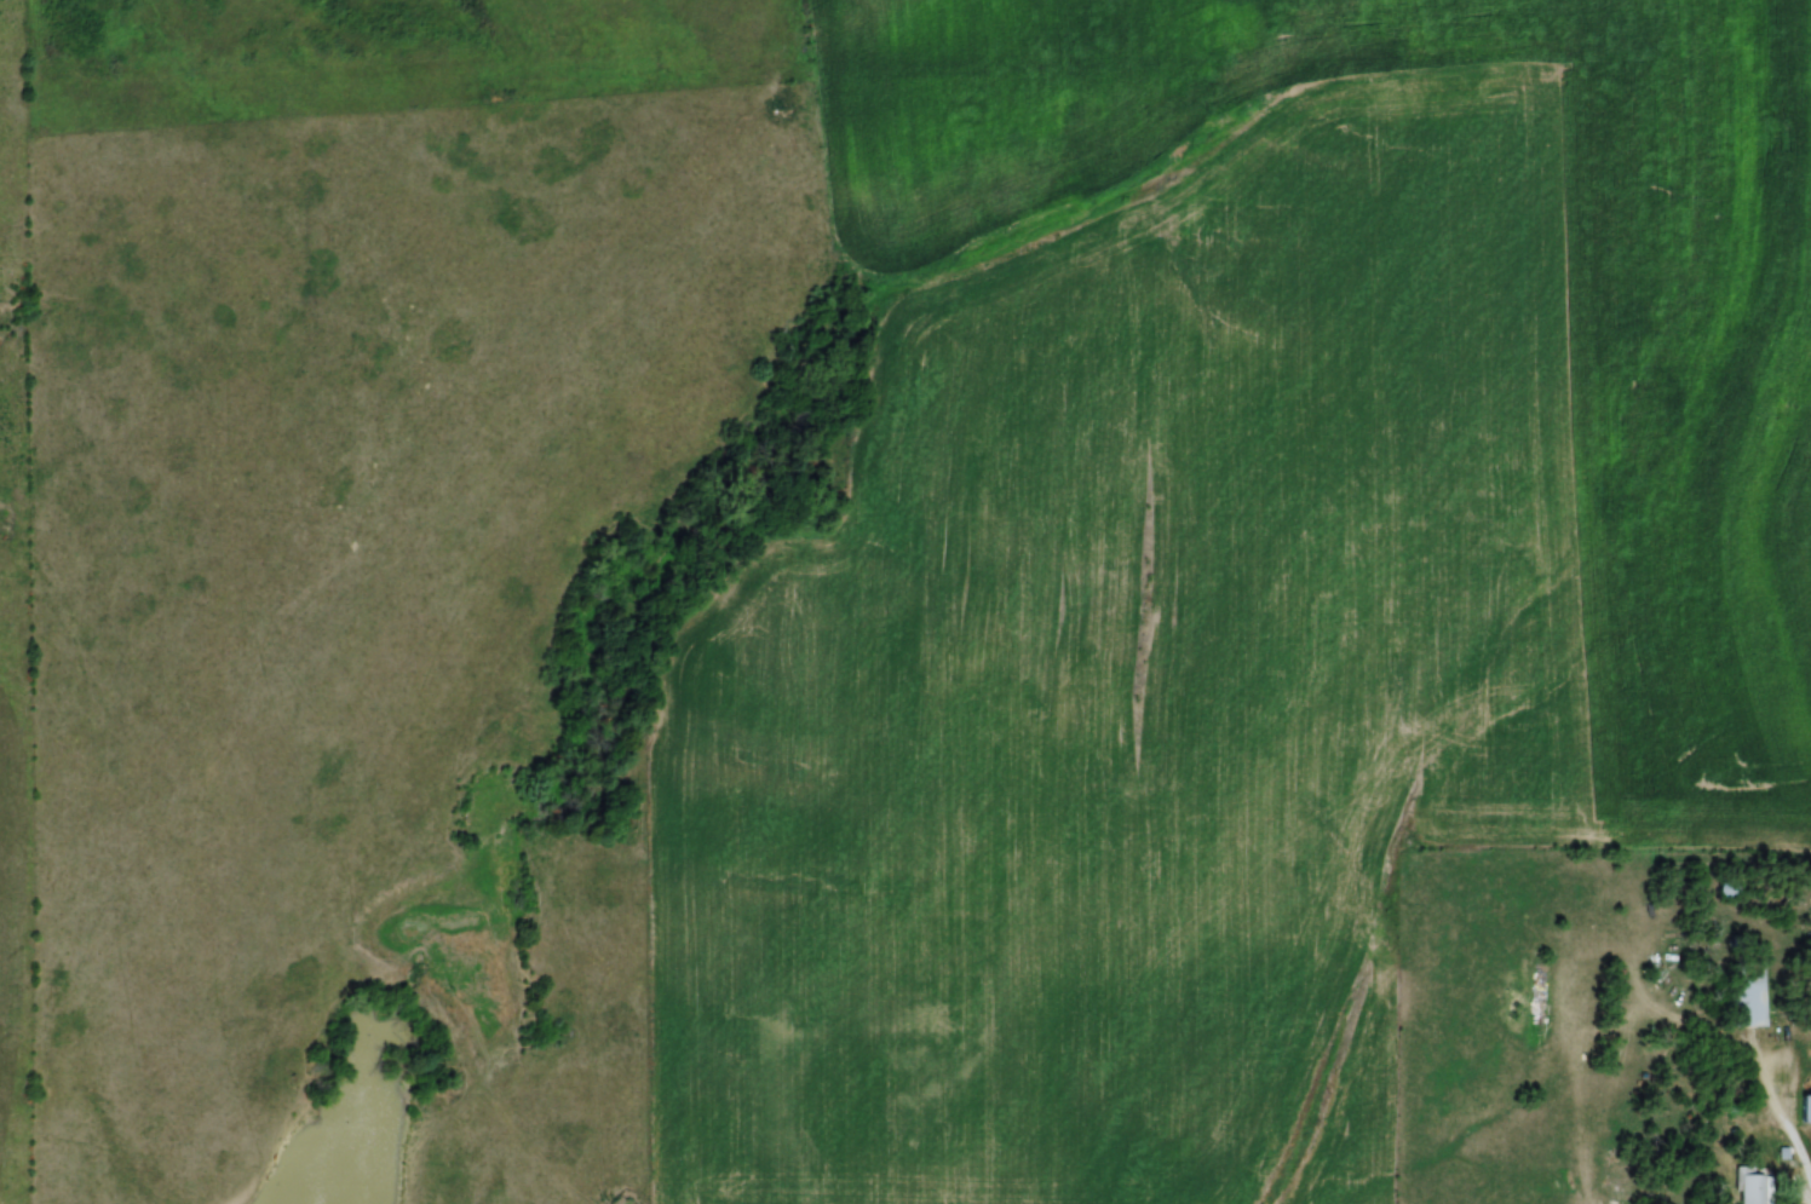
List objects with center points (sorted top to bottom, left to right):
building: (1725, 891)
building: (1744, 998)
building: (1806, 1112)
road: (1783, 1119)
building: (1752, 1188)

